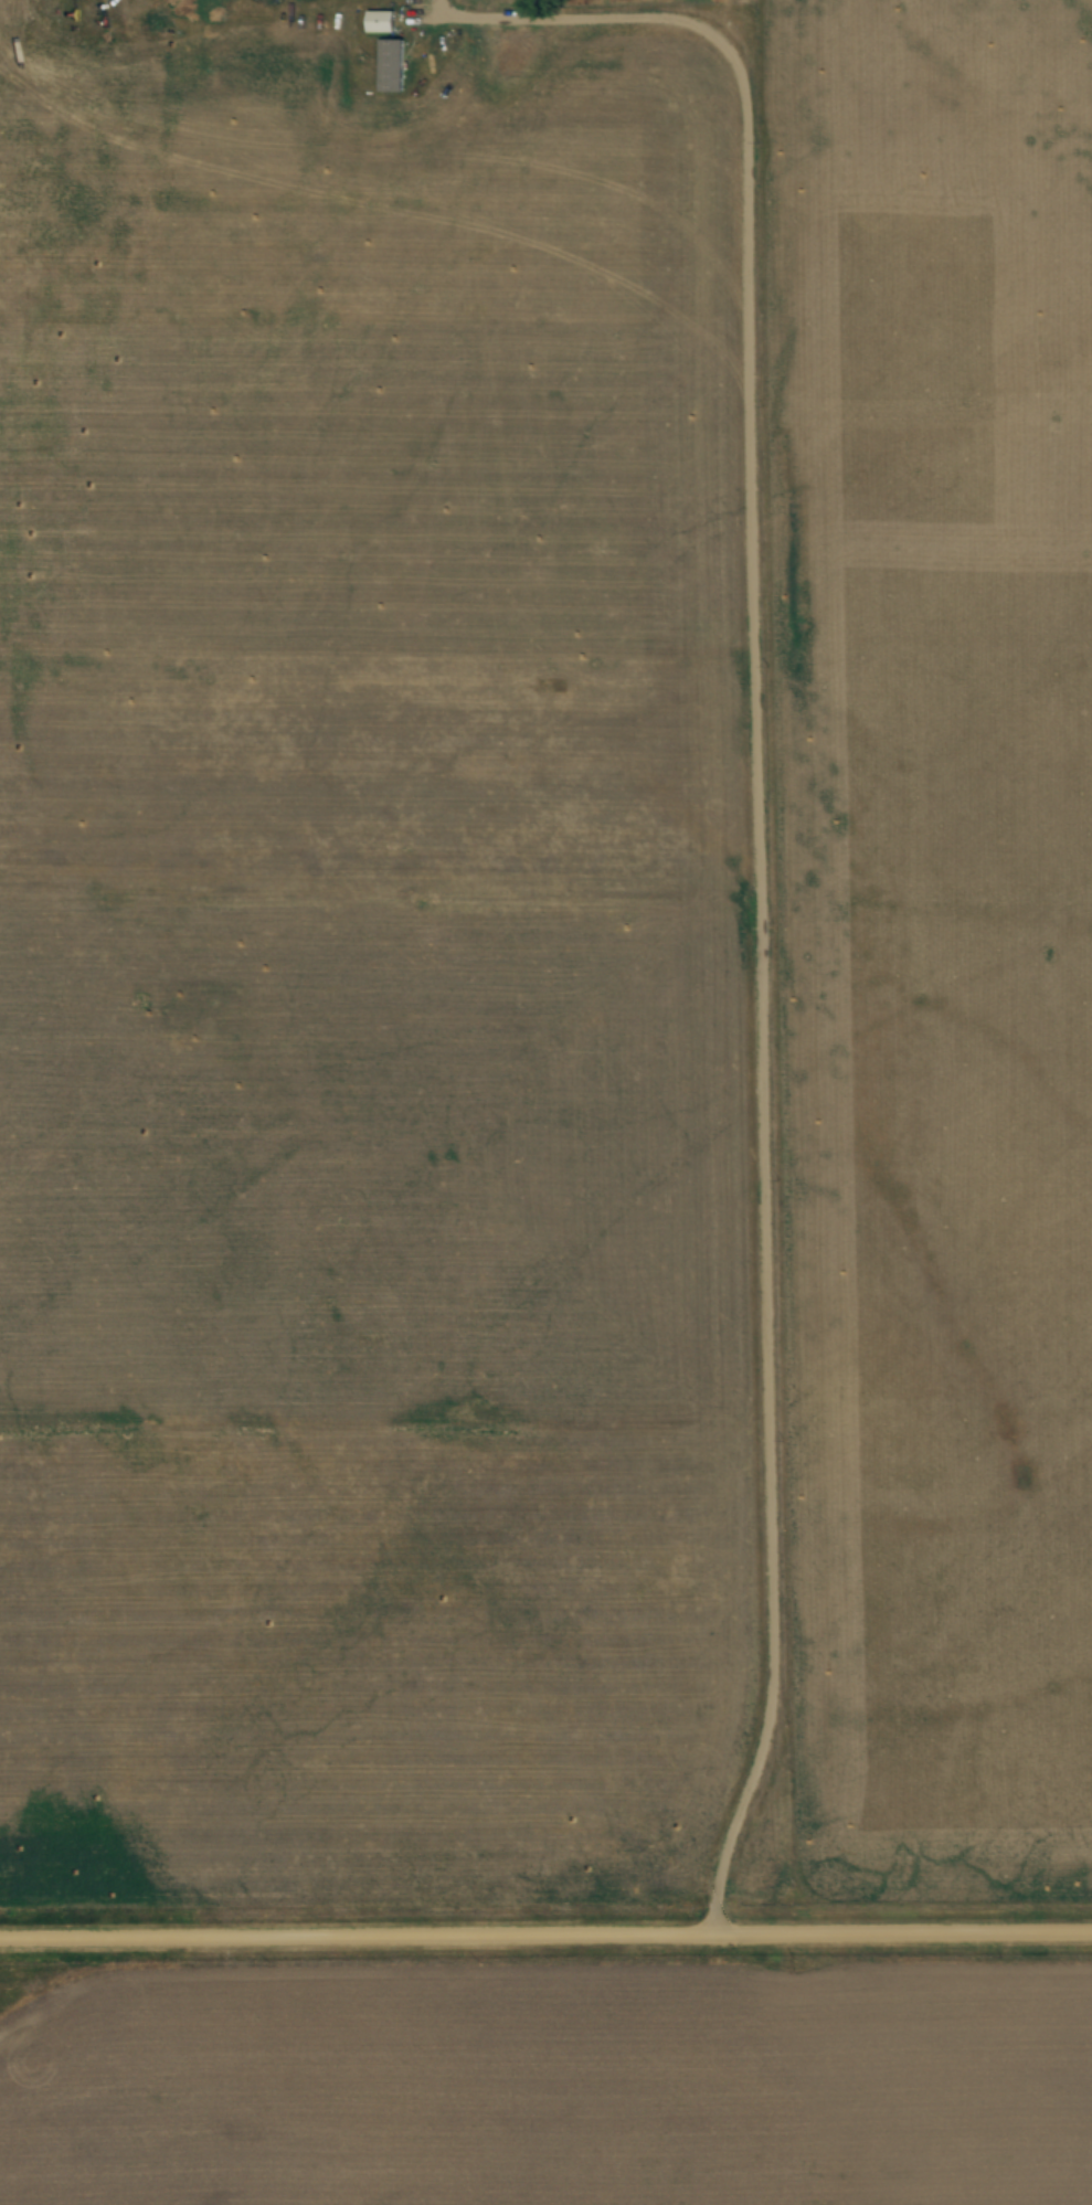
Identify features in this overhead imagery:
building: (375, 22)
building: (386, 65)
road: (745, 965)
road: (545, 1933)
crop: (550, 2090)

